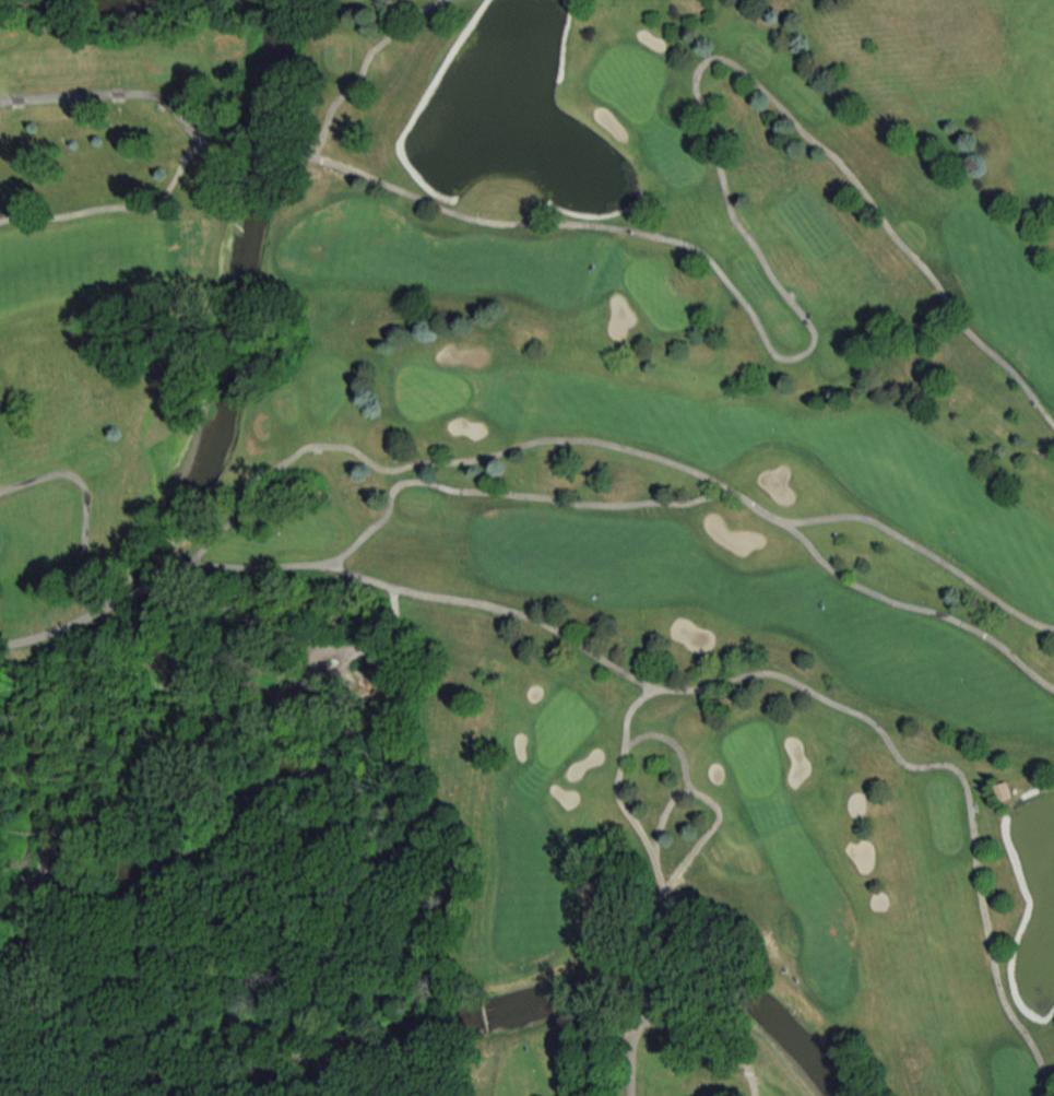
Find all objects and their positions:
road: (2, 99)
road: (2, 101)
road: (166, 102)
road: (117, 204)
road: (803, 319)
road: (422, 460)
road: (437, 484)
road: (84, 506)
road: (785, 519)
park: (528, 549)
road: (496, 606)
road: (1051, 625)
road: (55, 628)
road: (1038, 680)
road: (644, 687)
road: (620, 752)
road: (925, 765)
road: (696, 791)
road: (642, 1020)
road: (664, 1021)
road: (579, 1041)
road: (631, 1062)
road: (2, 1081)

